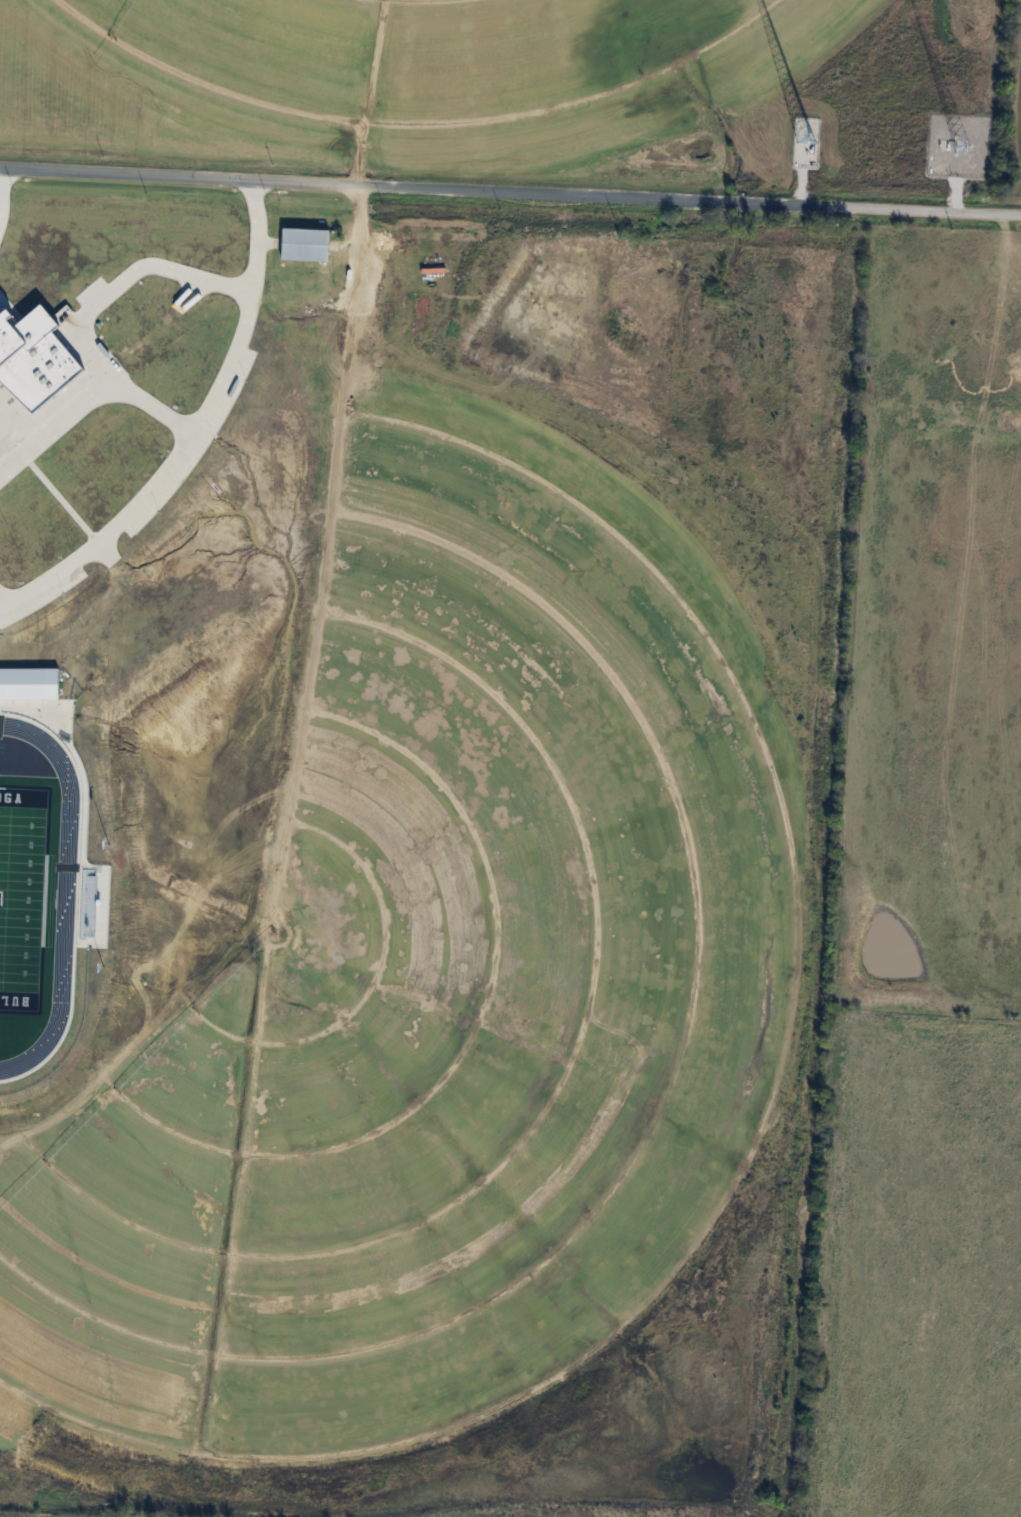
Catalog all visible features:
building: (816, 141)
road: (510, 190)
road: (2, 192)
building: (306, 244)
road: (121, 283)
road: (91, 397)
road: (196, 431)
road: (2, 602)

